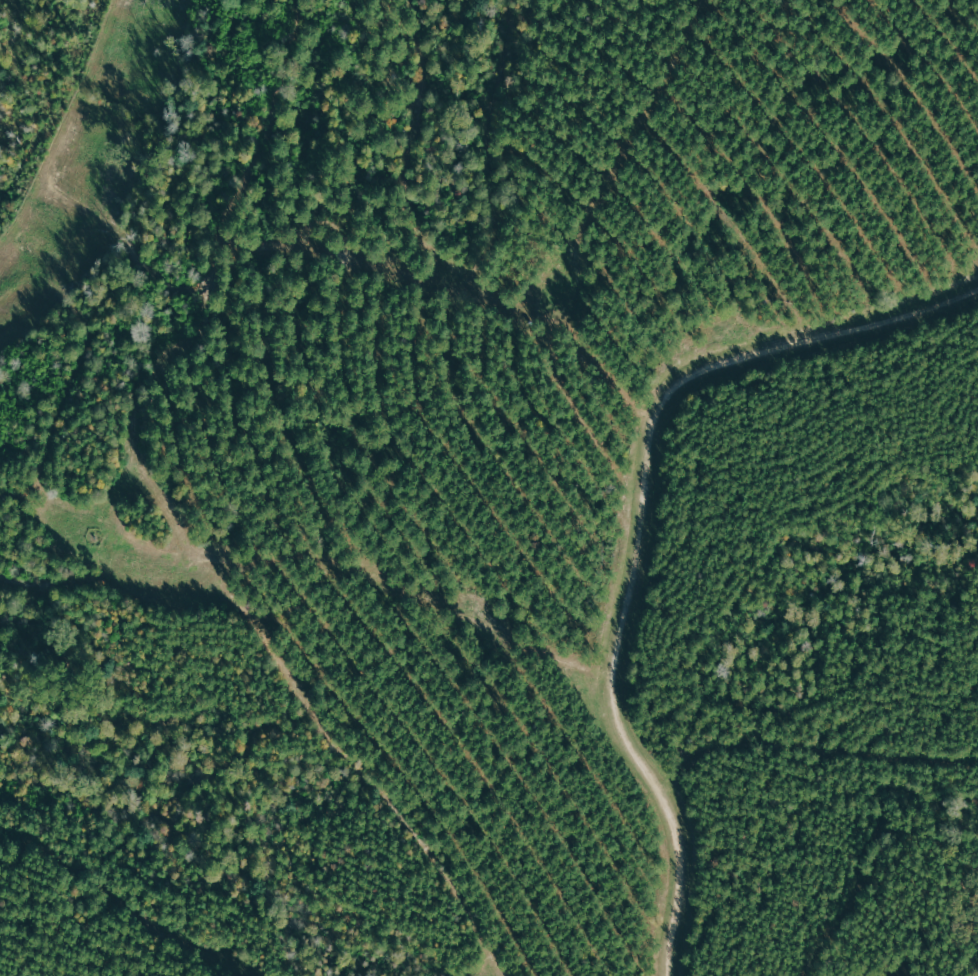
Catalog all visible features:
road: (639, 528)

